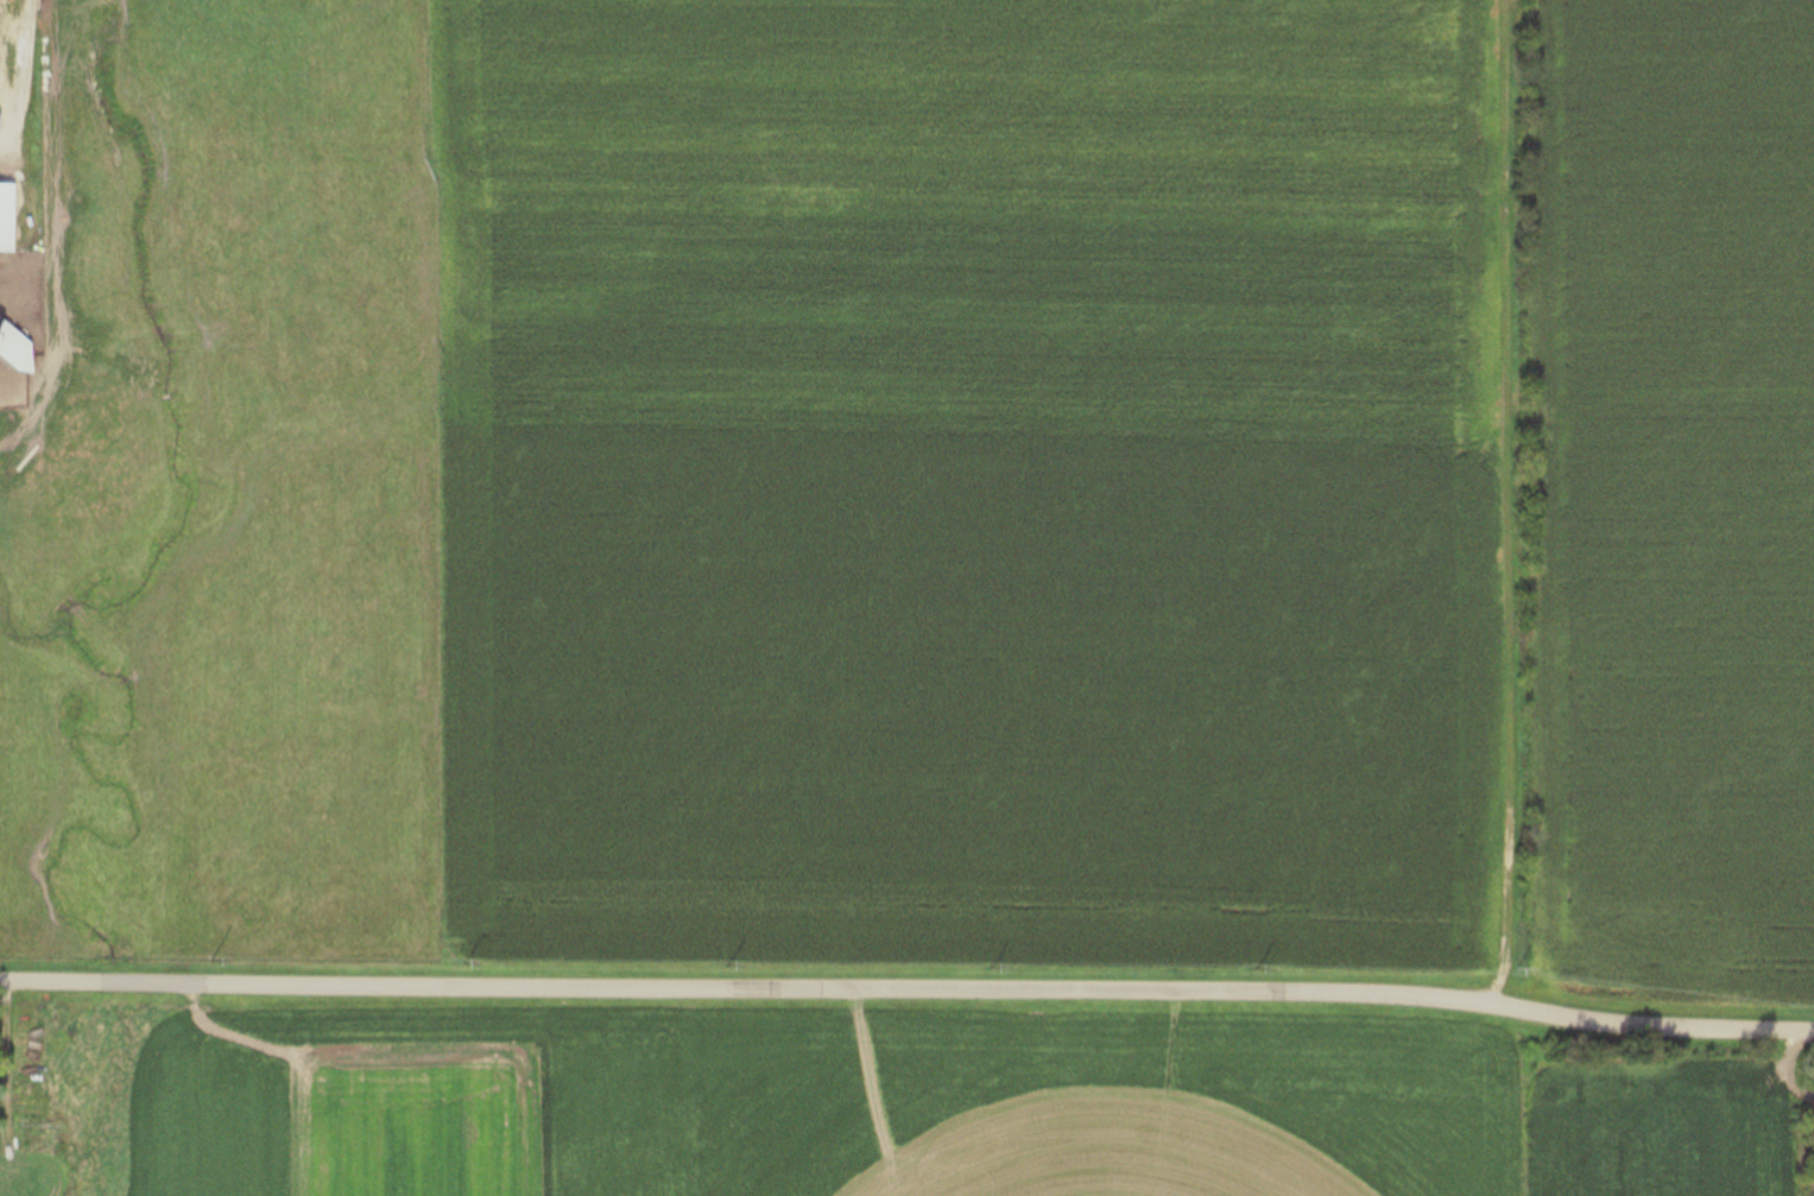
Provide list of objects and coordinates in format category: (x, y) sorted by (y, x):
building: (7, 220)
road: (908, 998)
building: (29, 1096)

